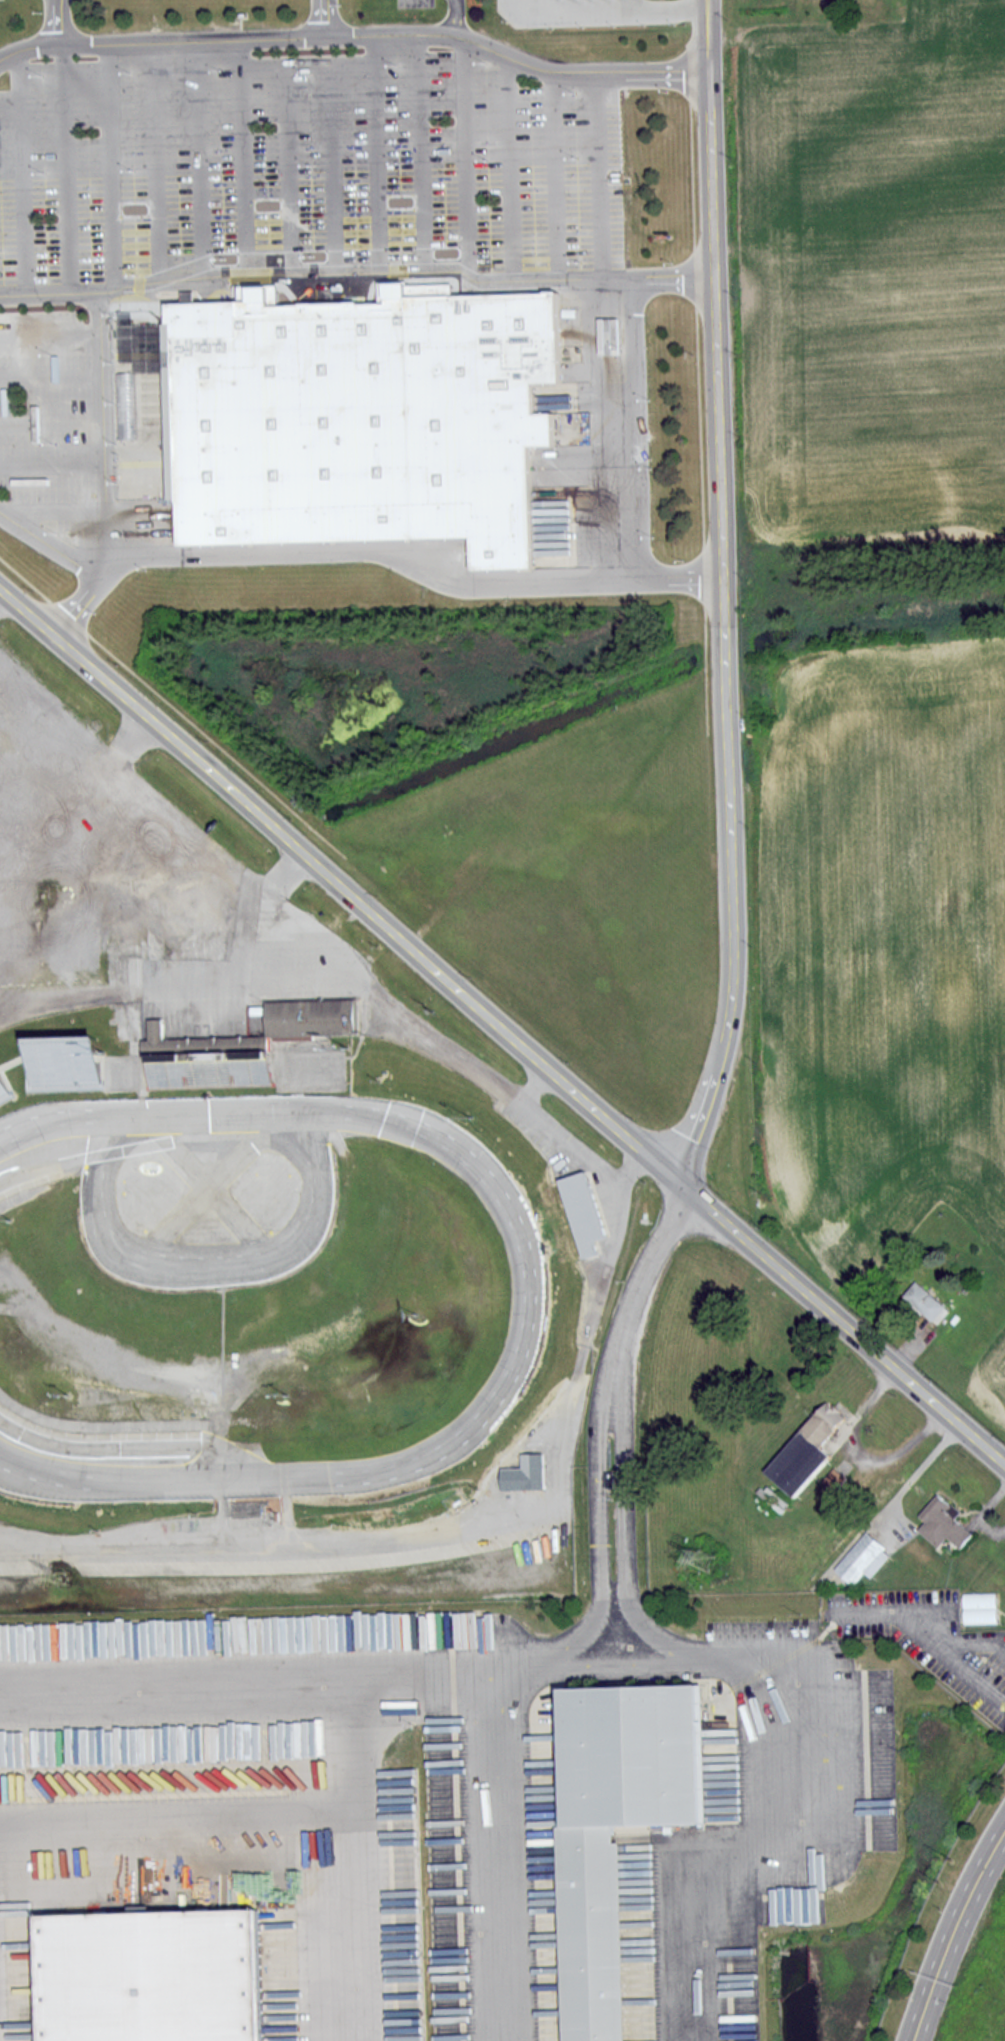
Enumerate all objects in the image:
road: (613, 9)
road: (457, 17)
road: (325, 18)
road: (57, 22)
road: (357, 35)
road: (709, 36)
road: (334, 121)
road: (424, 158)
road: (377, 159)
road: (202, 160)
road: (470, 160)
road: (156, 162)
road: (117, 165)
road: (67, 168)
road: (512, 168)
road: (243, 171)
road: (24, 173)
road: (292, 175)
road: (557, 175)
road: (607, 175)
parking lot: (295, 218)
crop: (873, 272)
road: (357, 284)
building: (368, 422)
road: (634, 429)
road: (102, 436)
road: (51, 544)
road: (375, 551)
road: (724, 629)
road: (50, 728)
road: (124, 745)
road: (203, 867)
crop: (886, 939)
road: (501, 1026)
road: (452, 1056)
building: (176, 1073)
road: (536, 1084)
building: (588, 1212)
stadium: (311, 1246)
road: (207, 1263)
raceway: (530, 1291)
road: (636, 1295)
crop: (993, 1384)
road: (597, 1530)
road: (631, 1530)
power tower: (713, 1558)
power tower: (64, 1577)
road: (900, 1615)
road: (977, 1641)
road: (557, 1654)
road: (190, 1674)
road: (975, 1677)
road: (172, 1832)
road: (498, 1850)
road: (345, 1851)
road: (766, 1858)
road: (953, 1932)
building: (599, 1941)
building: (160, 1975)

